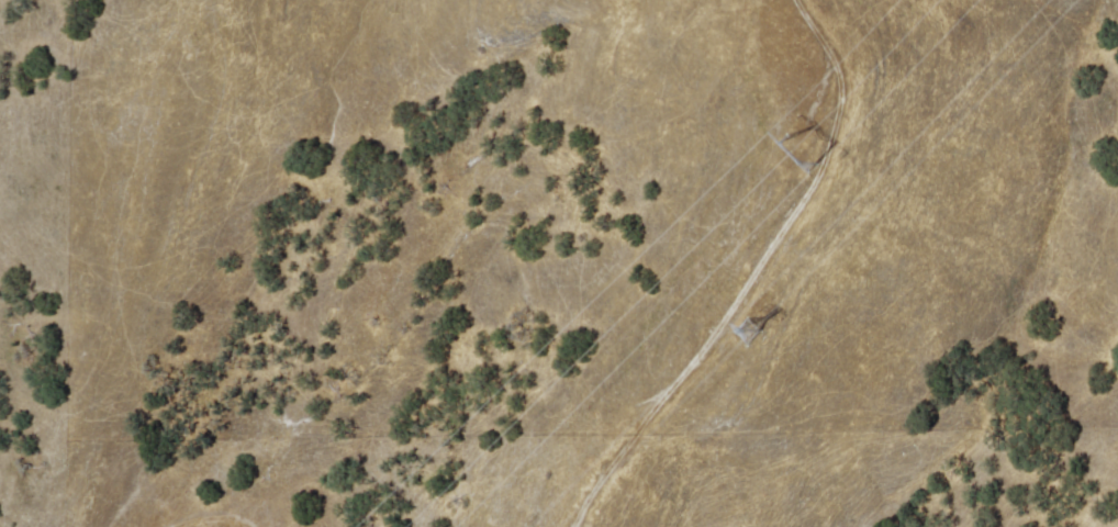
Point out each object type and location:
power tower: (792, 146)
road: (748, 276)
power tower: (746, 317)

